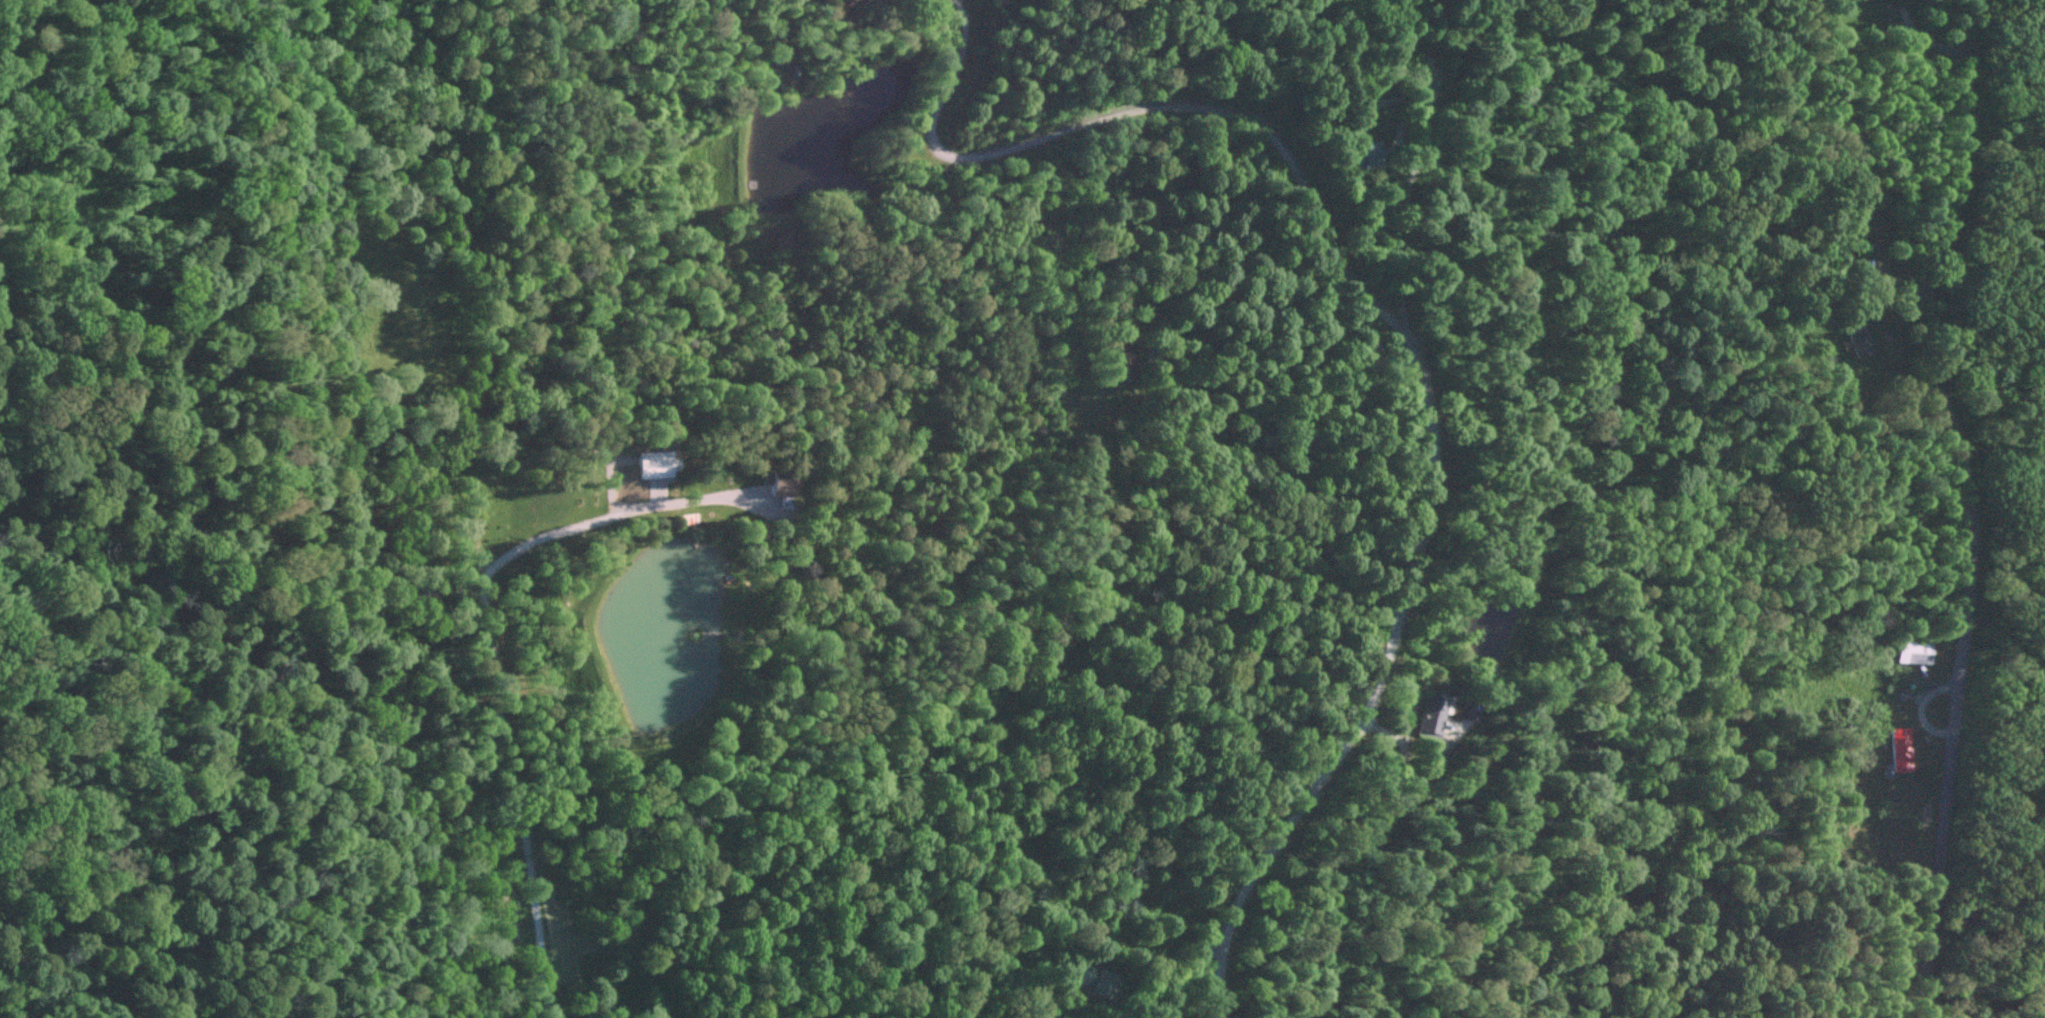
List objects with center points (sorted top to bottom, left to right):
building: (1429, 83)
building: (1360, 153)
road: (1388, 335)
building: (1857, 339)
building: (1117, 364)
building: (650, 463)
building: (781, 483)
road: (1973, 503)
building: (1910, 651)
road: (495, 665)
building: (1466, 710)
building: (1427, 716)
building: (1899, 749)
building: (1093, 982)

